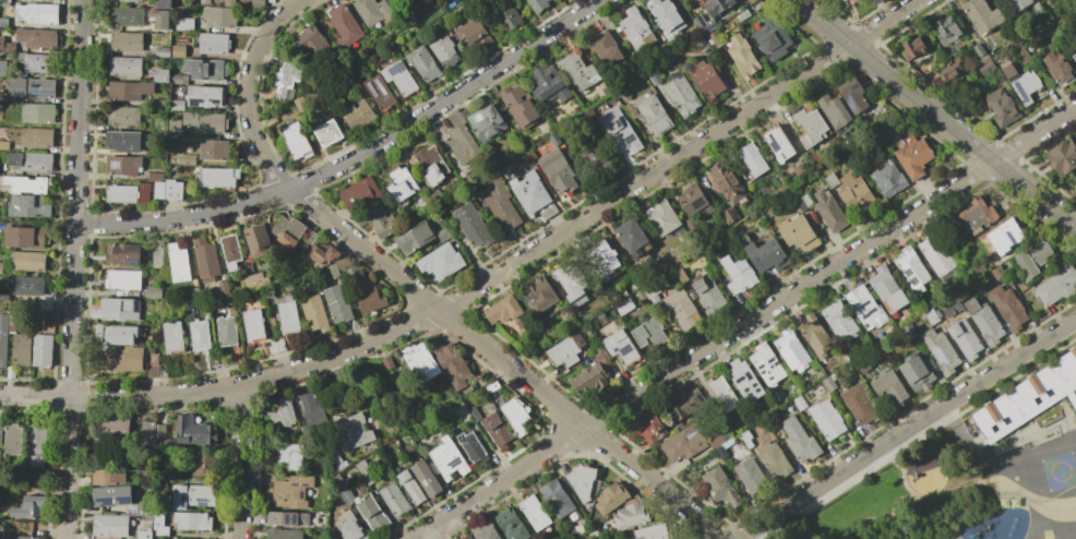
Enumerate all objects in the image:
building: (132, 0)
building: (685, 0)
building: (4, 1)
building: (178, 1)
building: (204, 1)
building: (845, 1)
building: (229, 2)
building: (163, 3)
building: (256, 3)
building: (537, 4)
building: (1017, 4)
building: (717, 5)
building: (1036, 5)
building: (371, 10)
building: (37, 13)
building: (507, 15)
building: (742, 15)
building: (981, 15)
building: (127, 16)
building: (218, 16)
building: (158, 17)
building: (667, 17)
building: (4, 22)
road: (824, 22)
road: (886, 22)
building: (183, 24)
building: (704, 24)
building: (343, 26)
building: (636, 28)
building: (945, 29)
building: (1075, 29)
building: (475, 33)
building: (37, 37)
building: (773, 38)
building: (716, 39)
building: (125, 41)
building: (309, 41)
building: (213, 43)
building: (702, 45)
building: (7, 47)
building: (606, 48)
building: (910, 48)
building: (978, 49)
building: (162, 52)
building: (445, 52)
building: (1021, 53)
building: (741, 56)
building: (1073, 56)
building: (38, 62)
building: (422, 63)
building: (983, 64)
building: (125, 67)
building: (1056, 67)
building: (3, 68)
park: (479, 68)
building: (204, 69)
building: (579, 69)
building: (946, 69)
building: (160, 74)
building: (398, 76)
building: (654, 77)
building: (705, 77)
building: (287, 79)
building: (179, 80)
building: (1020, 82)
building: (550, 84)
building: (32, 87)
building: (128, 91)
building: (378, 92)
building: (624, 93)
building: (682, 94)
building: (853, 95)
building: (204, 96)
road: (923, 103)
building: (300, 104)
building: (175, 105)
building: (519, 106)
building: (1000, 107)
building: (834, 110)
building: (37, 112)
building: (655, 113)
building: (123, 115)
building: (358, 116)
building: (206, 121)
building: (174, 123)
building: (487, 123)
building: (810, 125)
building: (619, 130)
building: (328, 132)
building: (176, 133)
road: (1036, 134)
building: (37, 137)
building: (553, 139)
building: (296, 140)
building: (908, 140)
building: (123, 141)
building: (3, 144)
building: (779, 144)
building: (463, 145)
building: (213, 148)
building: (593, 153)
building: (531, 155)
building: (1062, 156)
building: (184, 158)
road: (355, 158)
building: (913, 158)
building: (753, 159)
building: (777, 160)
building: (32, 161)
building: (121, 165)
building: (432, 165)
building: (799, 168)
building: (507, 169)
building: (559, 170)
building: (155, 177)
building: (217, 177)
building: (1075, 177)
building: (830, 180)
building: (888, 180)
building: (727, 181)
building: (402, 183)
building: (26, 184)
building: (1075, 187)
building: (174, 190)
building: (143, 192)
building: (159, 192)
building: (856, 193)
building: (120, 194)
building: (360, 194)
building: (437, 194)
building: (533, 194)
road: (1036, 195)
building: (693, 199)
building: (806, 200)
building: (501, 204)
building: (801, 204)
building: (28, 205)
building: (829, 211)
building: (730, 215)
building: (662, 217)
building: (976, 218)
building: (379, 221)
building: (691, 224)
building: (471, 225)
building: (286, 230)
building: (443, 233)
building: (798, 233)
building: (1005, 236)
building: (24, 237)
building: (310, 237)
building: (414, 238)
building: (633, 238)
building: (255, 240)
building: (230, 252)
building: (127, 253)
building: (321, 253)
building: (157, 255)
building: (766, 255)
building: (935, 255)
building: (600, 259)
building: (1032, 259)
building: (28, 260)
building: (205, 260)
building: (342, 262)
building: (440, 262)
building: (178, 263)
building: (1, 267)
building: (911, 267)
road: (72, 268)
building: (978, 269)
building: (332, 271)
building: (679, 273)
building: (997, 273)
building: (738, 274)
building: (122, 279)
building: (571, 279)
building: (254, 284)
building: (28, 286)
building: (1056, 286)
building: (977, 288)
building: (219, 289)
building: (887, 290)
building: (153, 292)
building: (651, 292)
building: (364, 294)
road: (420, 294)
building: (708, 294)
building: (539, 295)
building: (639, 295)
road: (454, 300)
building: (337, 303)
building: (46, 306)
building: (624, 307)
building: (1007, 307)
building: (865, 308)
building: (117, 309)
building: (681, 309)
building: (189, 311)
building: (505, 311)
building: (314, 312)
building: (13, 316)
building: (289, 316)
building: (930, 318)
building: (272, 321)
building: (840, 321)
building: (984, 321)
building: (253, 324)
building: (227, 332)
building: (909, 332)
building: (117, 334)
building: (648, 334)
building: (964, 334)
building: (815, 335)
building: (200, 336)
building: (172, 337)
building: (3, 339)
building: (276, 345)
building: (621, 347)
building: (22, 349)
road: (704, 349)
building: (791, 349)
building: (41, 350)
building: (565, 350)
building: (941, 350)
building: (601, 355)
building: (120, 358)
building: (419, 362)
building: (387, 363)
building: (453, 364)
building: (767, 364)
road: (331, 366)
building: (864, 367)
building: (10, 372)
building: (917, 373)
building: (588, 379)
building: (745, 380)
building: (829, 381)
road: (335, 383)
building: (492, 386)
building: (890, 387)
building: (722, 393)
building: (1027, 398)
road: (338, 403)
building: (800, 403)
building: (685, 405)
building: (859, 405)
building: (310, 408)
building: (280, 414)
building: (474, 414)
building: (514, 415)
building: (827, 419)
building: (0, 428)
building: (113, 428)
building: (650, 429)
road: (907, 429)
building: (497, 430)
building: (194, 431)
building: (351, 432)
building: (148, 433)
building: (12, 440)
building: (746, 440)
building: (799, 440)
building: (683, 444)
building: (37, 445)
building: (471, 447)
building: (721, 452)
building: (291, 456)
building: (447, 458)
building: (337, 459)
building: (774, 459)
road: (242, 463)
building: (201, 464)
building: (340, 465)
road: (901, 466)
park: (992, 468)
park: (1052, 472)
building: (367, 474)
building: (749, 475)
building: (106, 477)
building: (427, 478)
park: (1016, 478)
building: (583, 482)
building: (720, 487)
building: (410, 488)
building: (289, 493)
building: (111, 495)
building: (192, 495)
building: (347, 496)
building: (611, 496)
park: (908, 498)
building: (394, 499)
building: (557, 499)
road: (1029, 499)
building: (27, 507)
building: (146, 508)
building: (535, 513)
building: (372, 515)
building: (632, 516)
building: (288, 518)
building: (148, 519)
road: (887, 519)
building: (192, 522)
building: (158, 523)
road: (1037, 523)
building: (109, 525)
building: (511, 525)
building: (350, 527)
building: (485, 530)
building: (159, 531)
building: (653, 532)
building: (284, 534)
park: (1050, 534)
building: (142, 536)
building: (21, 537)
building: (467, 537)
building: (625, 538)
park: (1073, 538)

